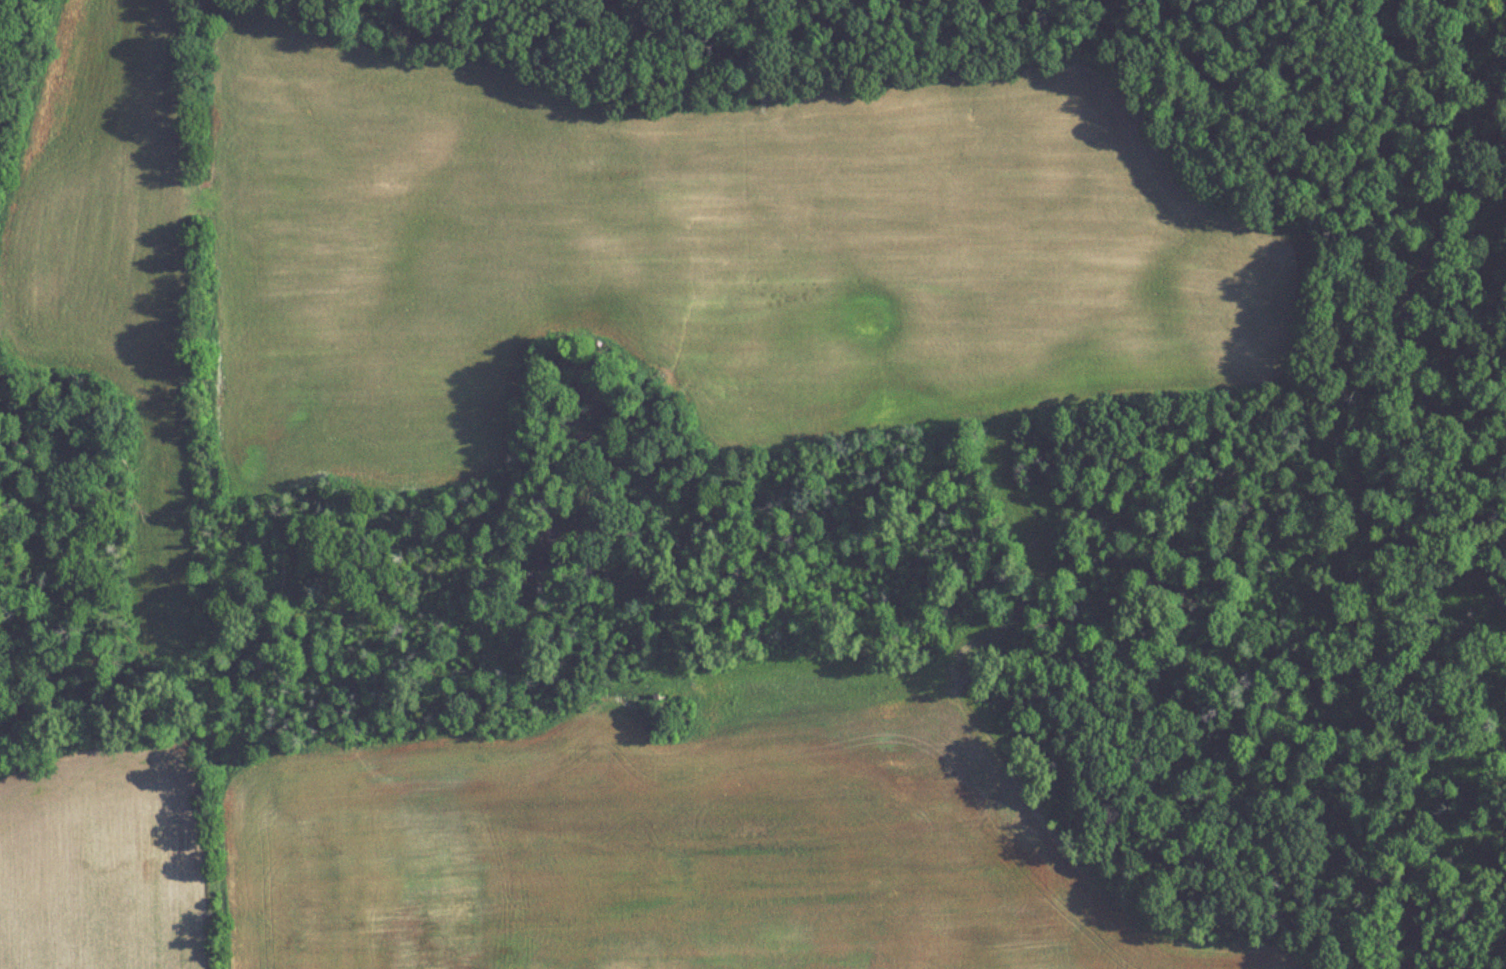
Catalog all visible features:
crop: (696, 257)
crop: (109, 259)
crop: (680, 855)
crop: (89, 864)

